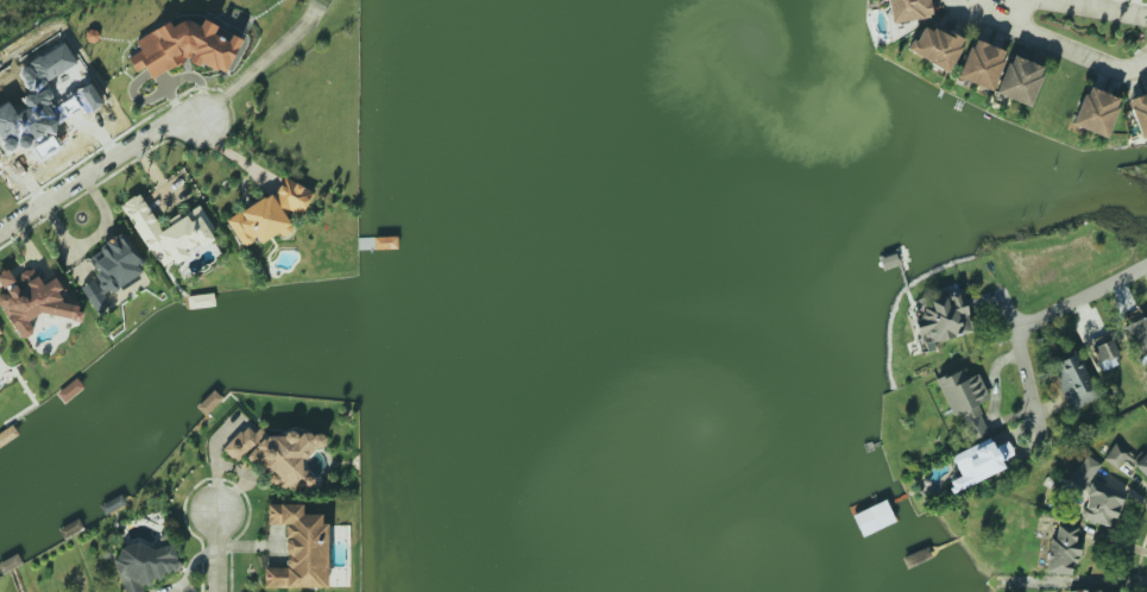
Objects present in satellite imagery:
road: (1091, 7)
building: (907, 10)
road: (1057, 43)
building: (184, 46)
building: (935, 46)
building: (981, 64)
building: (1019, 80)
building: (1095, 112)
building: (1139, 113)
road: (96, 160)
building: (270, 213)
building: (168, 232)
building: (112, 270)
building: (32, 300)
road: (1082, 300)
building: (943, 319)
building: (1139, 336)
building: (1, 341)
building: (1103, 354)
road: (1023, 367)
building: (1071, 382)
building: (964, 399)
building: (277, 454)
building: (1115, 455)
building: (978, 462)
building: (1142, 464)
building: (1096, 496)
building: (298, 548)
building: (1060, 550)
road: (213, 554)
building: (143, 565)
building: (1091, 591)

